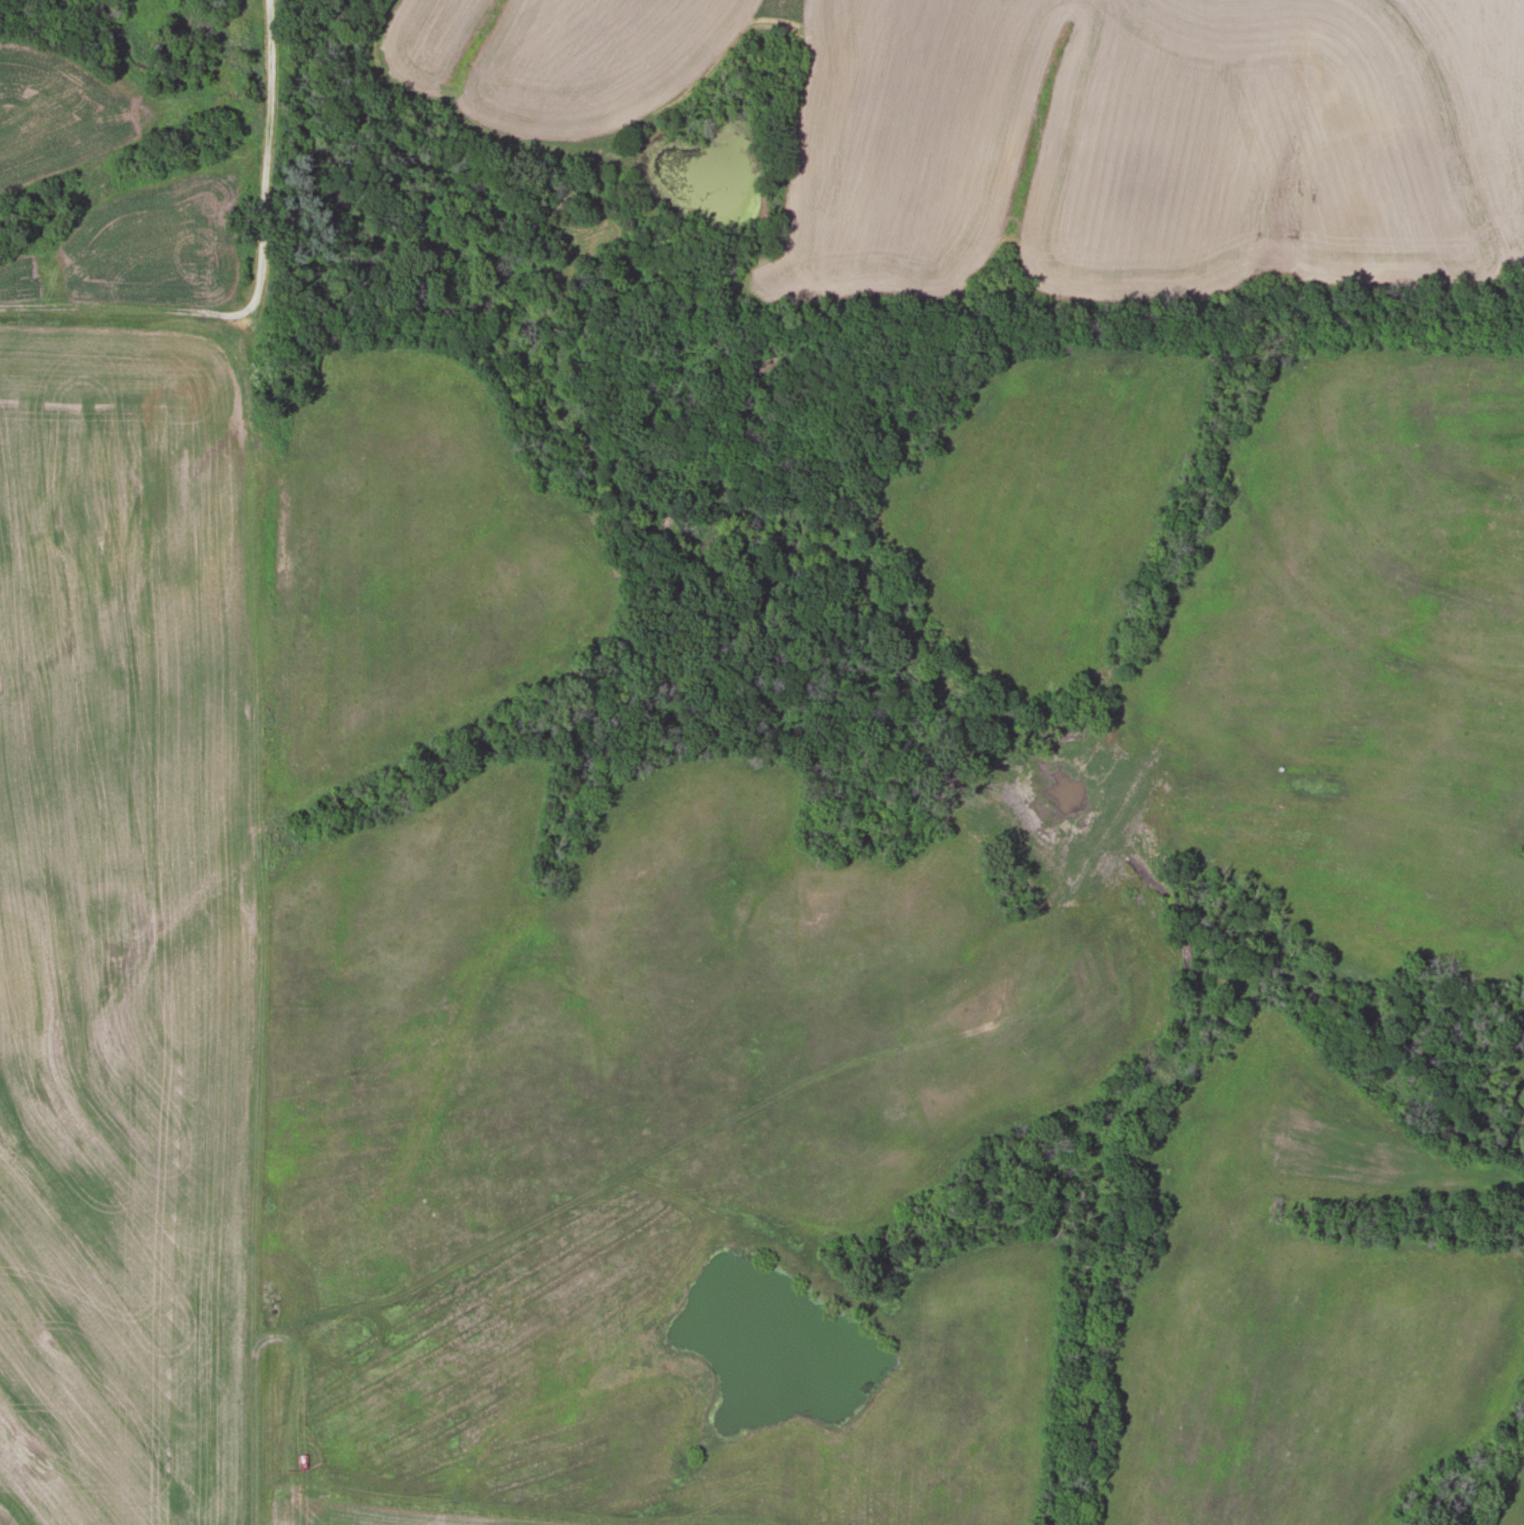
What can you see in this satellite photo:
road: (230, 1378)

